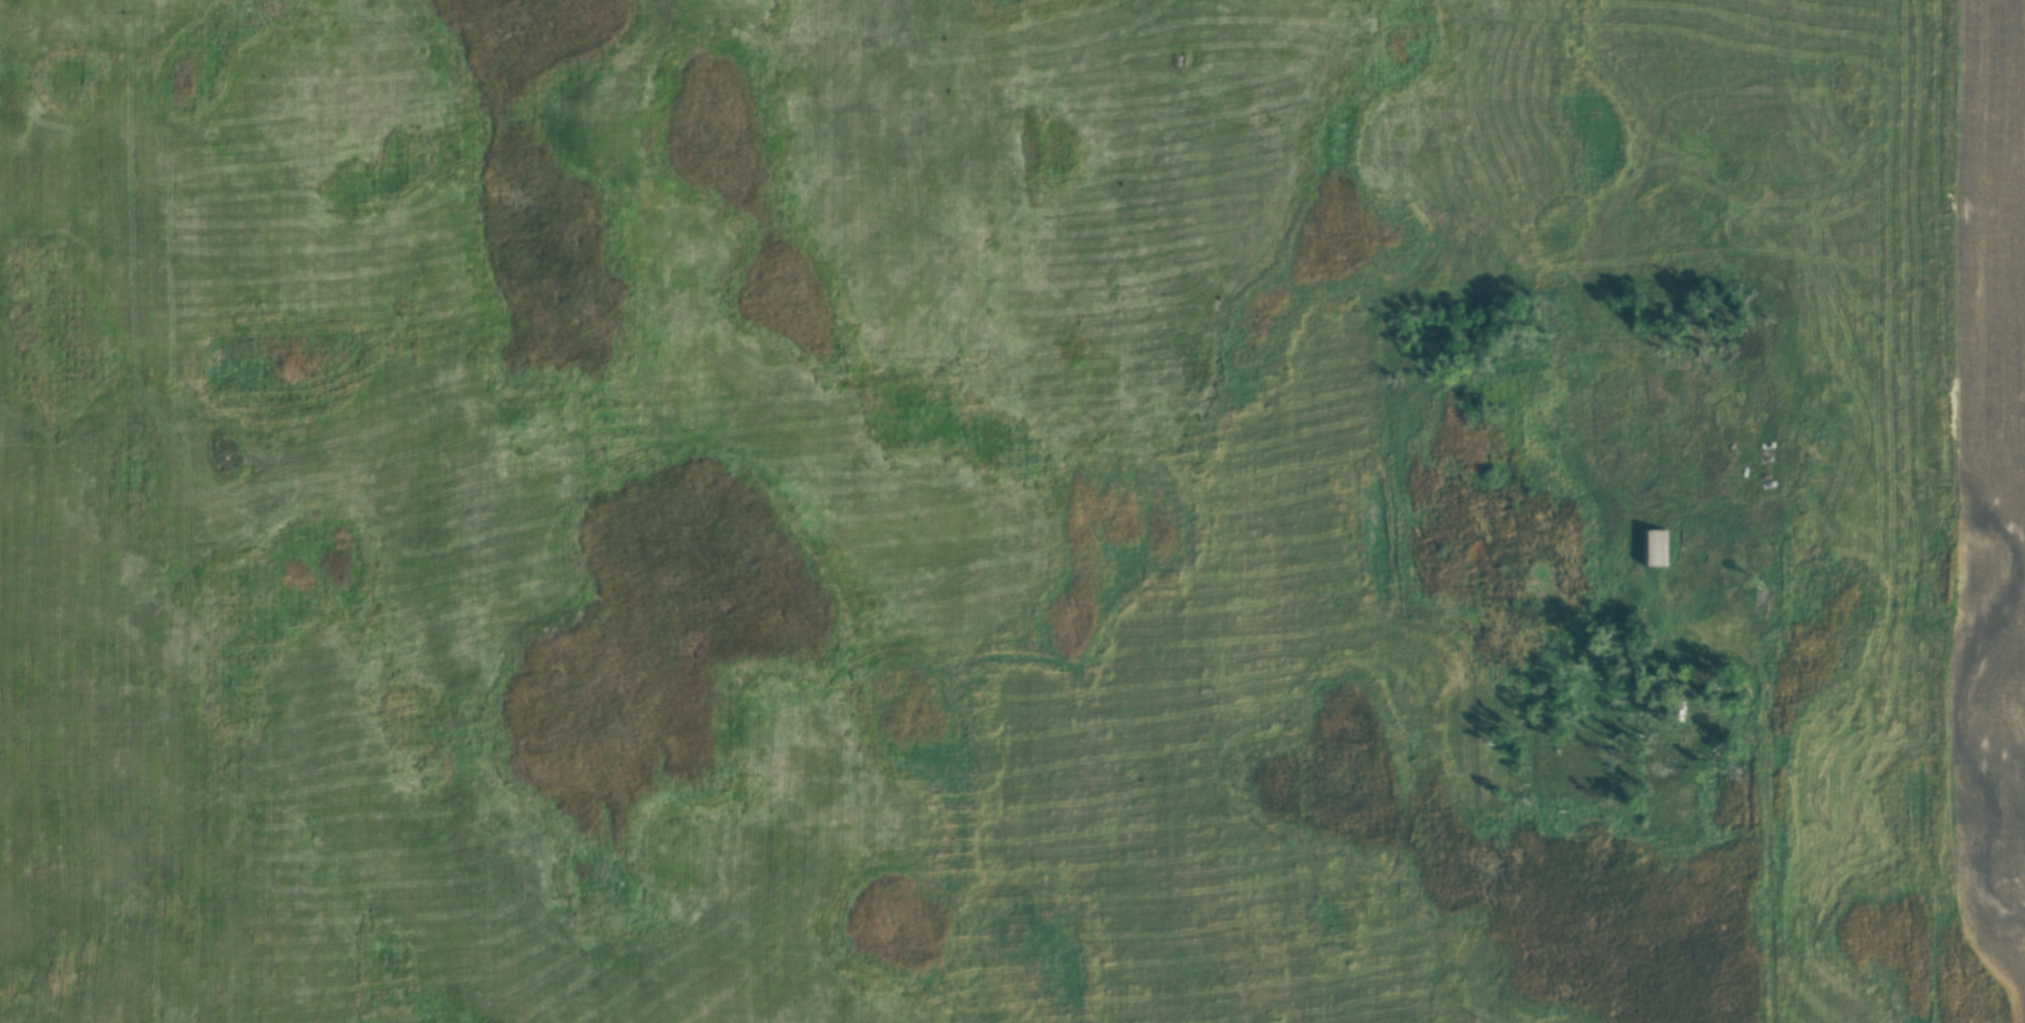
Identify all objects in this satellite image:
building: (1655, 547)

